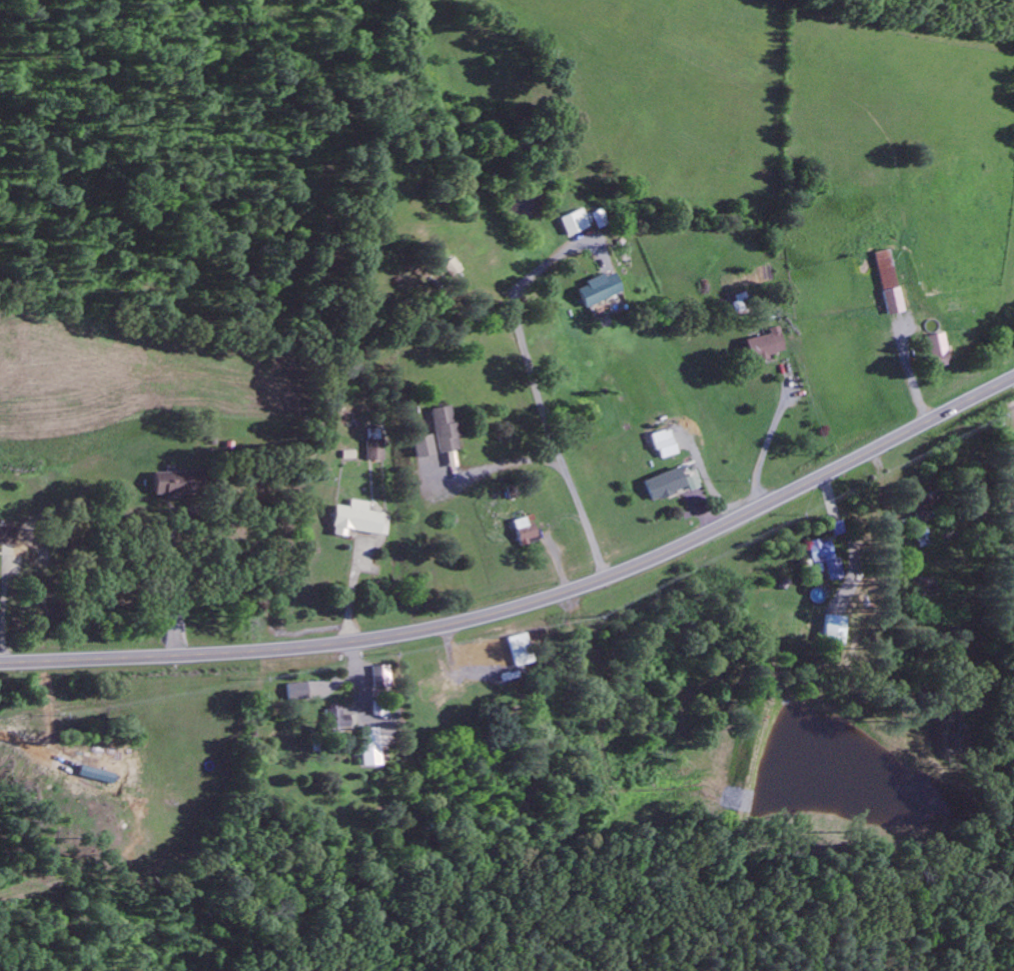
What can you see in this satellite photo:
building: (574, 222)
building: (886, 282)
building: (598, 290)
building: (763, 345)
building: (937, 350)
building: (443, 429)
building: (663, 443)
building: (421, 445)
building: (374, 449)
building: (176, 482)
building: (691, 482)
building: (663, 483)
building: (922, 508)
road: (408, 517)
building: (358, 519)
building: (523, 530)
building: (6, 534)
building: (823, 558)
road: (529, 602)
building: (832, 629)
building: (518, 649)
building: (293, 690)
building: (329, 718)
building: (365, 746)

